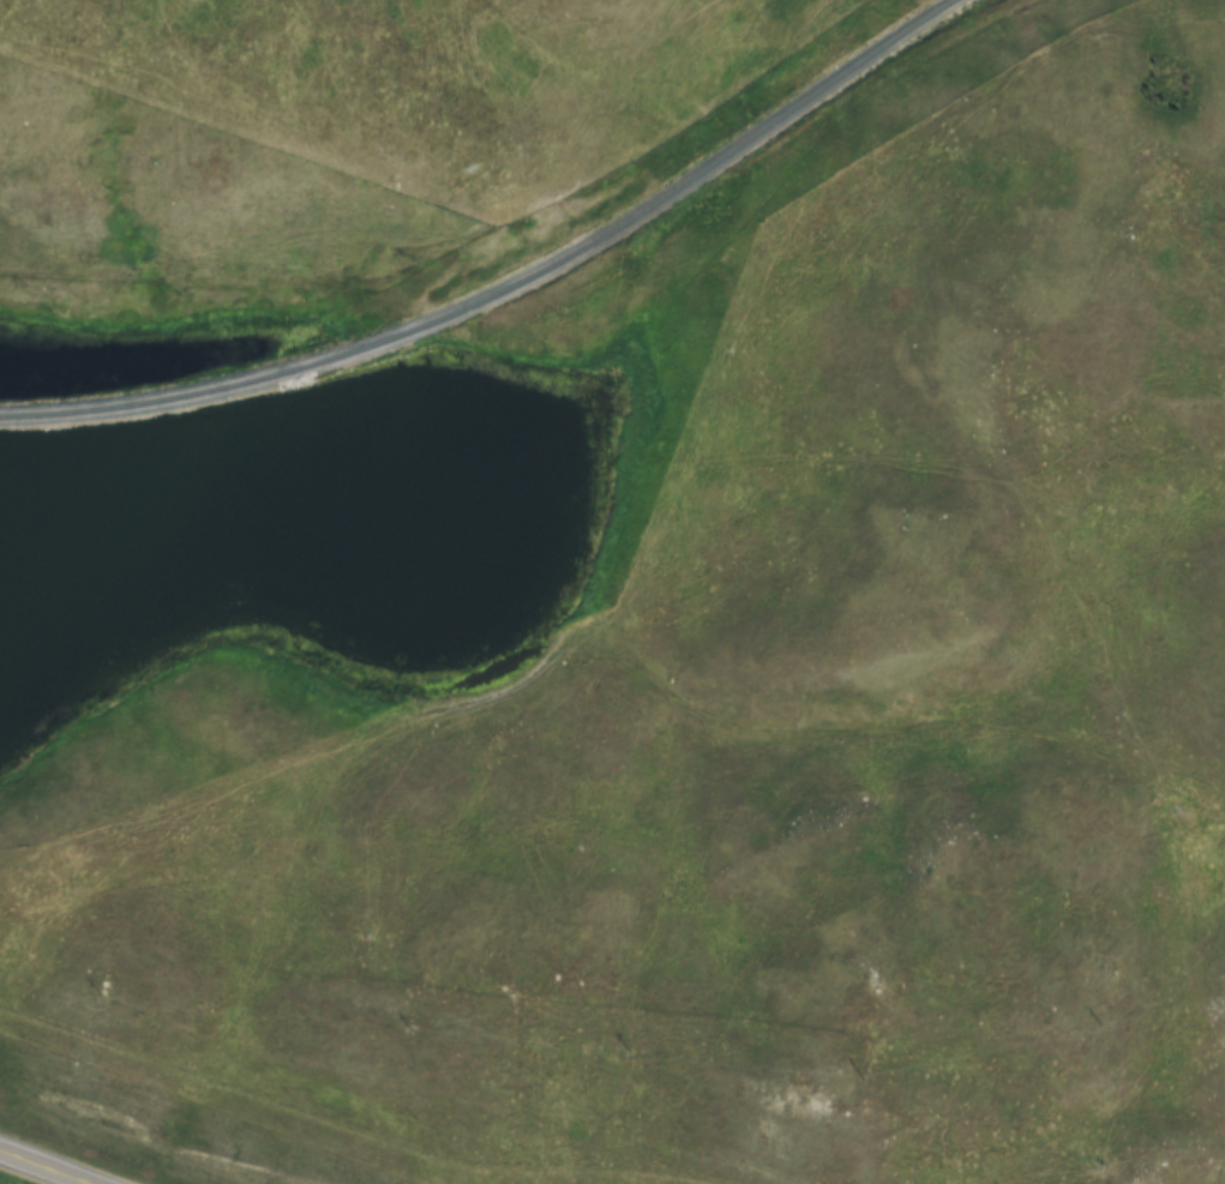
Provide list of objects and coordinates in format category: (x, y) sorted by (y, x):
railway: (512, 290)
road: (35, 1171)

